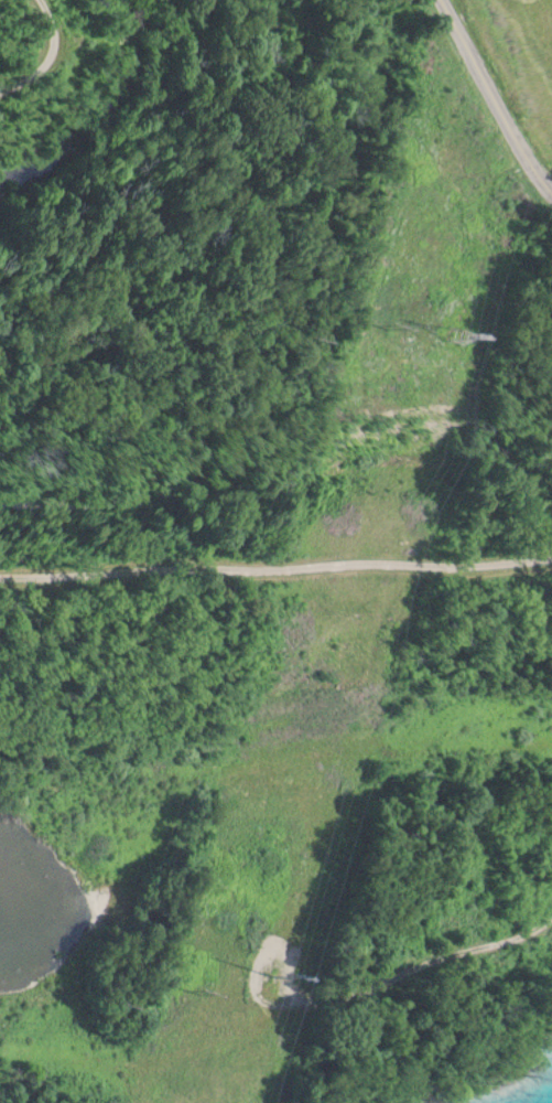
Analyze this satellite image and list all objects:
road: (490, 96)
power tower: (448, 330)
power tower: (266, 983)

